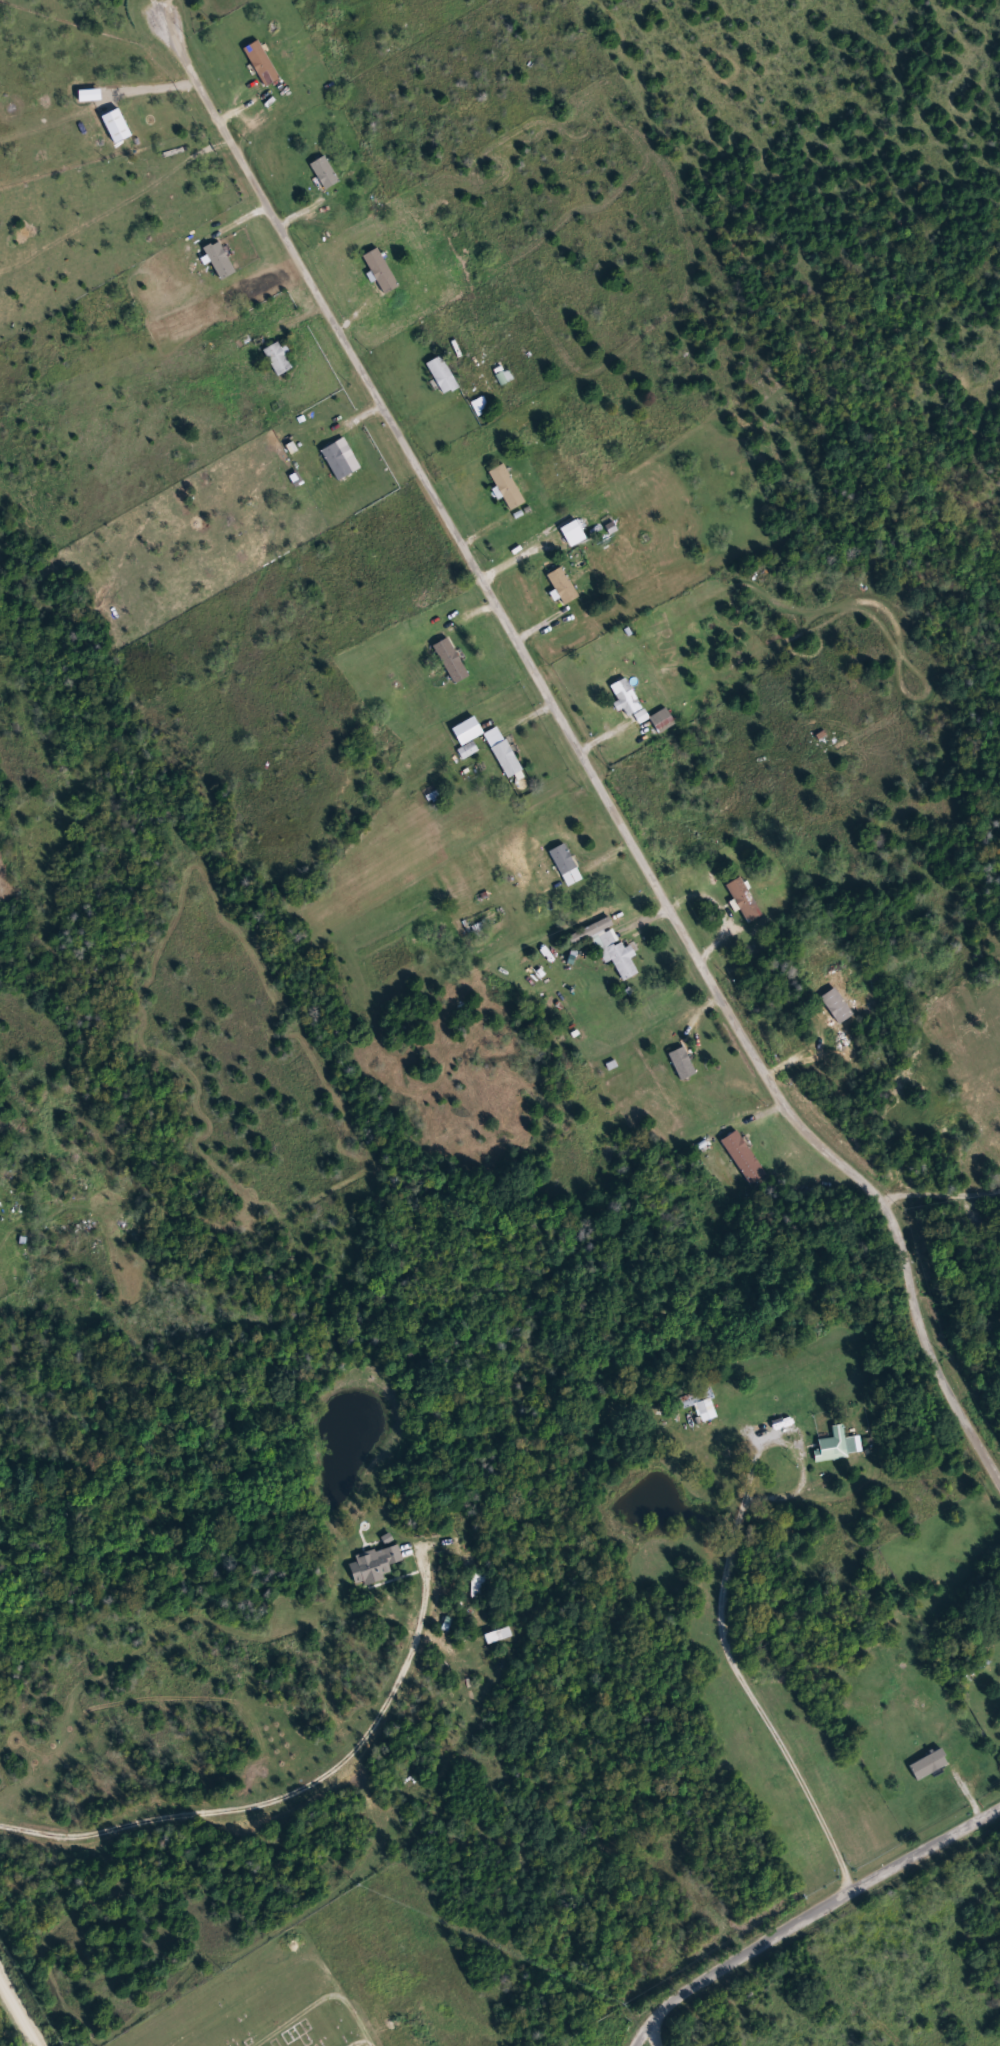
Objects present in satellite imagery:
building: (260, 62)
building: (116, 125)
building: (325, 172)
building: (219, 260)
building: (382, 271)
building: (279, 358)
building: (442, 375)
building: (480, 405)
building: (337, 460)
building: (506, 487)
building: (573, 533)
building: (563, 585)
building: (452, 660)
building: (626, 696)
building: (642, 716)
building: (663, 720)
building: (467, 731)
building: (468, 750)
building: (503, 752)
building: (566, 865)
building: (743, 899)
building: (609, 945)
building: (837, 1005)
building: (682, 1062)
building: (995, 1140)
building: (745, 1157)
building: (695, 1397)
building: (708, 1410)
building: (837, 1445)
building: (376, 1562)
building: (480, 1586)
road: (733, 1657)
building: (929, 1764)
road: (807, 1914)
park: (339, 1980)
road: (18, 2013)
road: (655, 2035)
road: (362, 2037)

